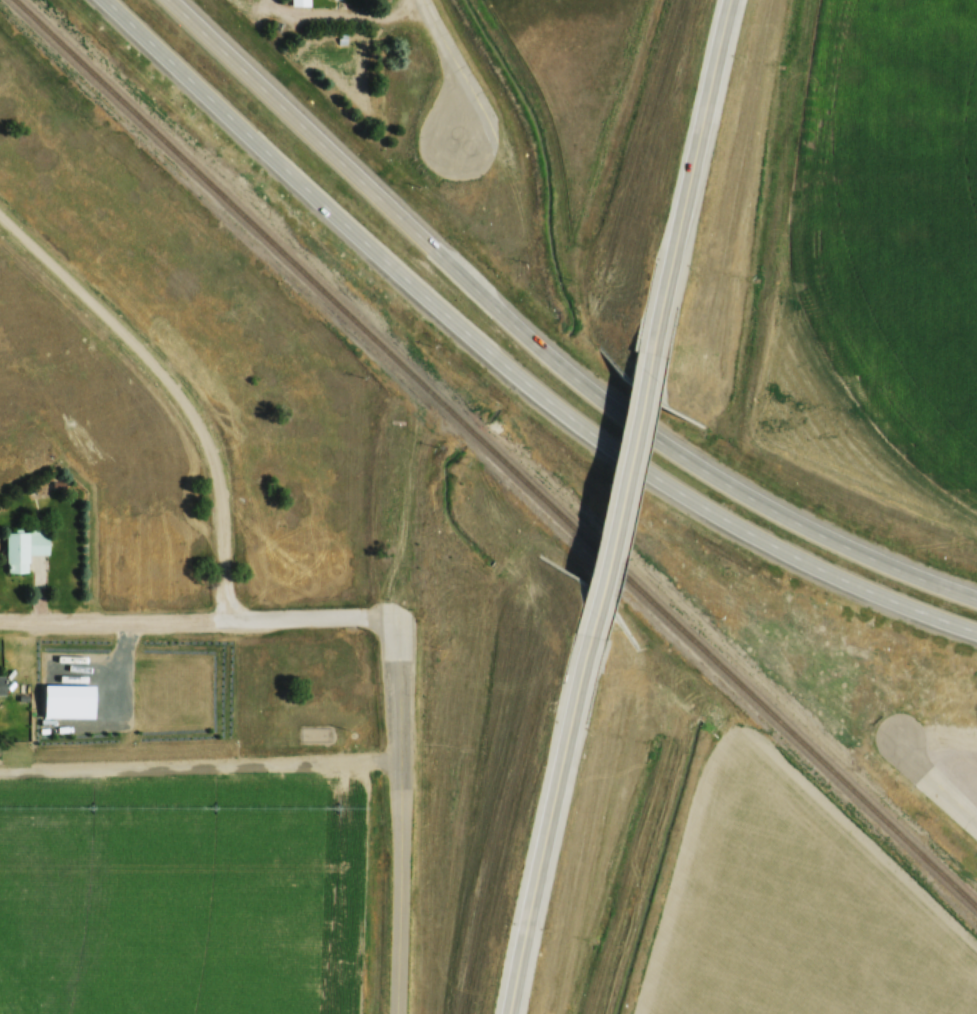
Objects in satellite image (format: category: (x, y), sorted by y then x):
building: (299, 2)
road: (349, 15)
road: (449, 73)
road: (320, 139)
road: (272, 155)
road: (688, 188)
road: (175, 387)
road: (593, 393)
road: (580, 424)
railway: (496, 453)
road: (621, 490)
building: (23, 548)
road: (852, 549)
road: (853, 584)
road: (203, 620)
building: (1, 686)
road: (934, 783)
road: (549, 808)
road: (403, 825)

